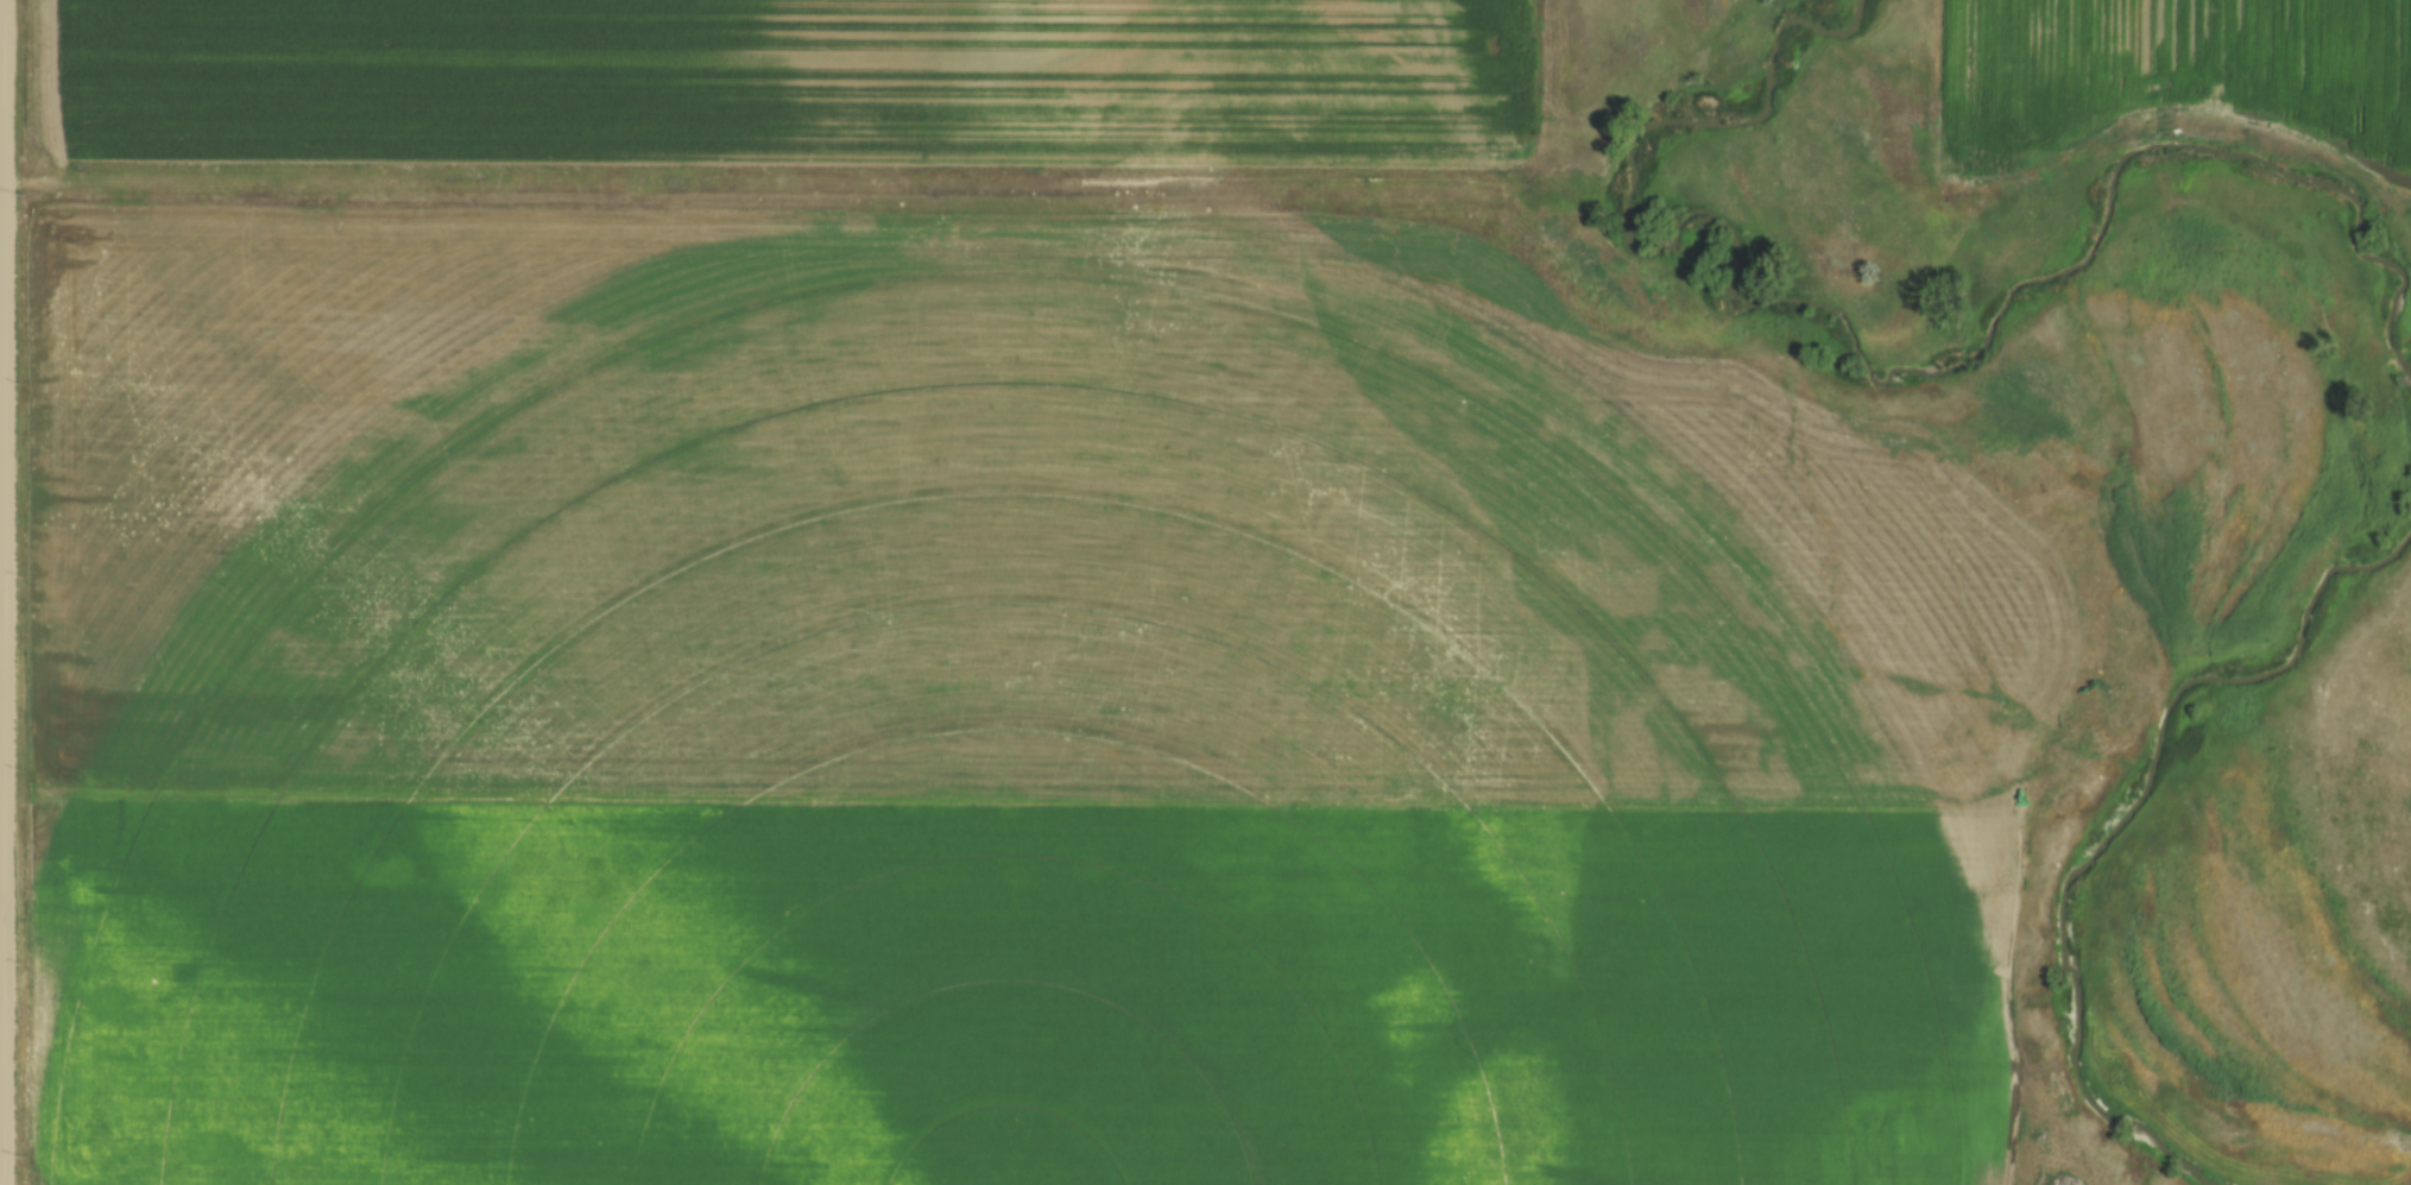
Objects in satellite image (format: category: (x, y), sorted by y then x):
crop: (2163, 76)
crop: (791, 82)
road: (8, 592)
crop: (980, 713)

